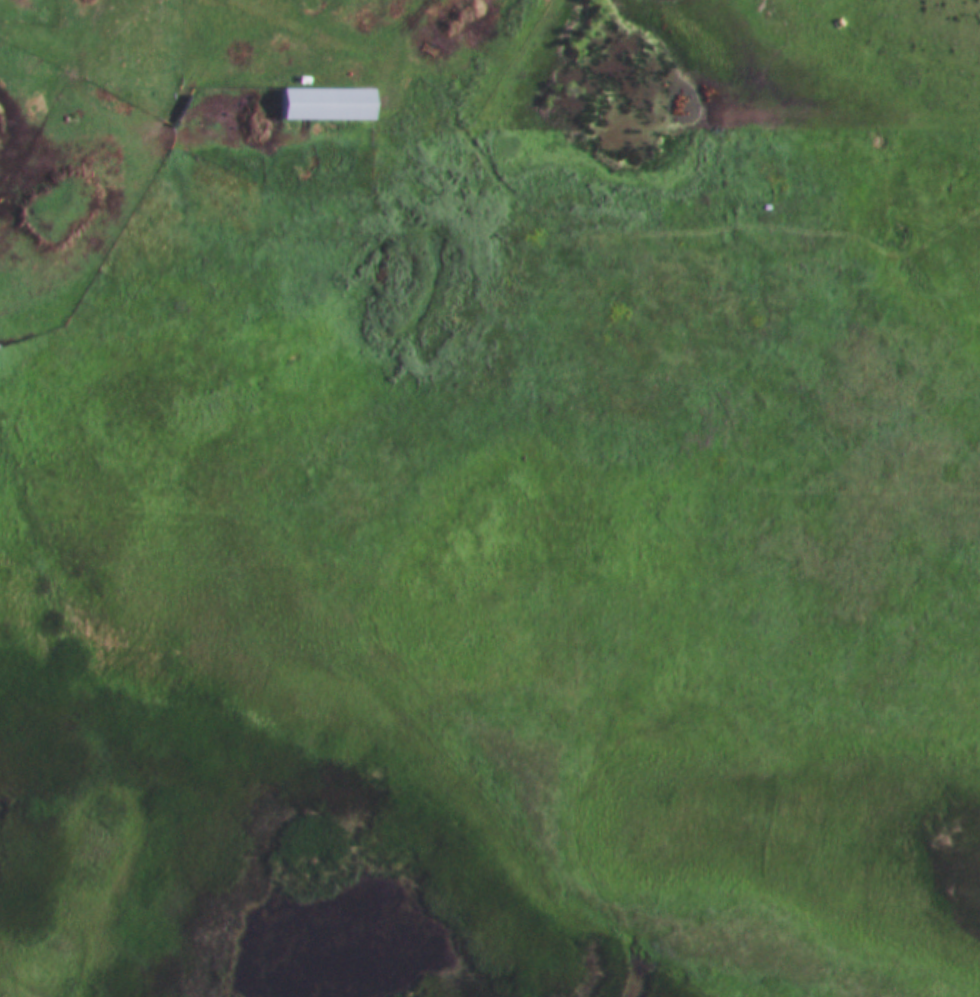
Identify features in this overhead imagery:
building: (322, 104)

